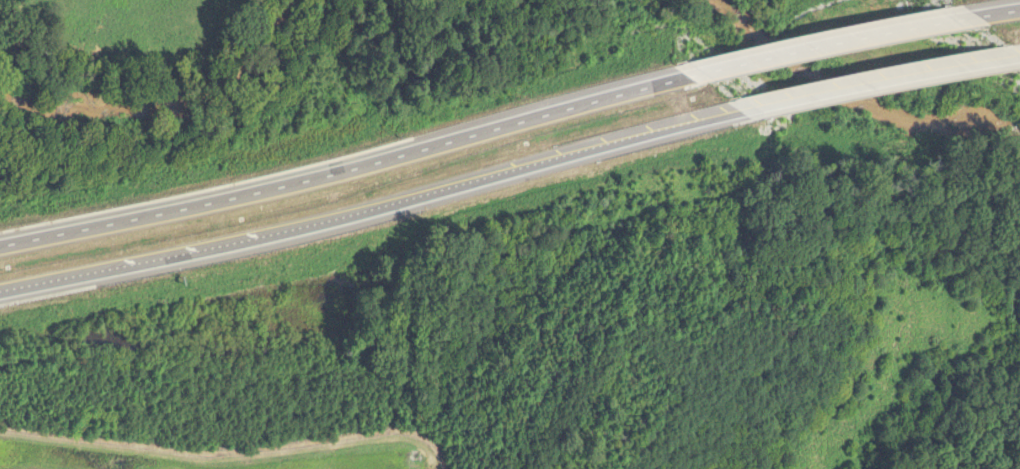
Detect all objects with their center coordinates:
road: (996, 13)
road: (834, 43)
road: (882, 81)
road: (350, 172)
road: (374, 207)

